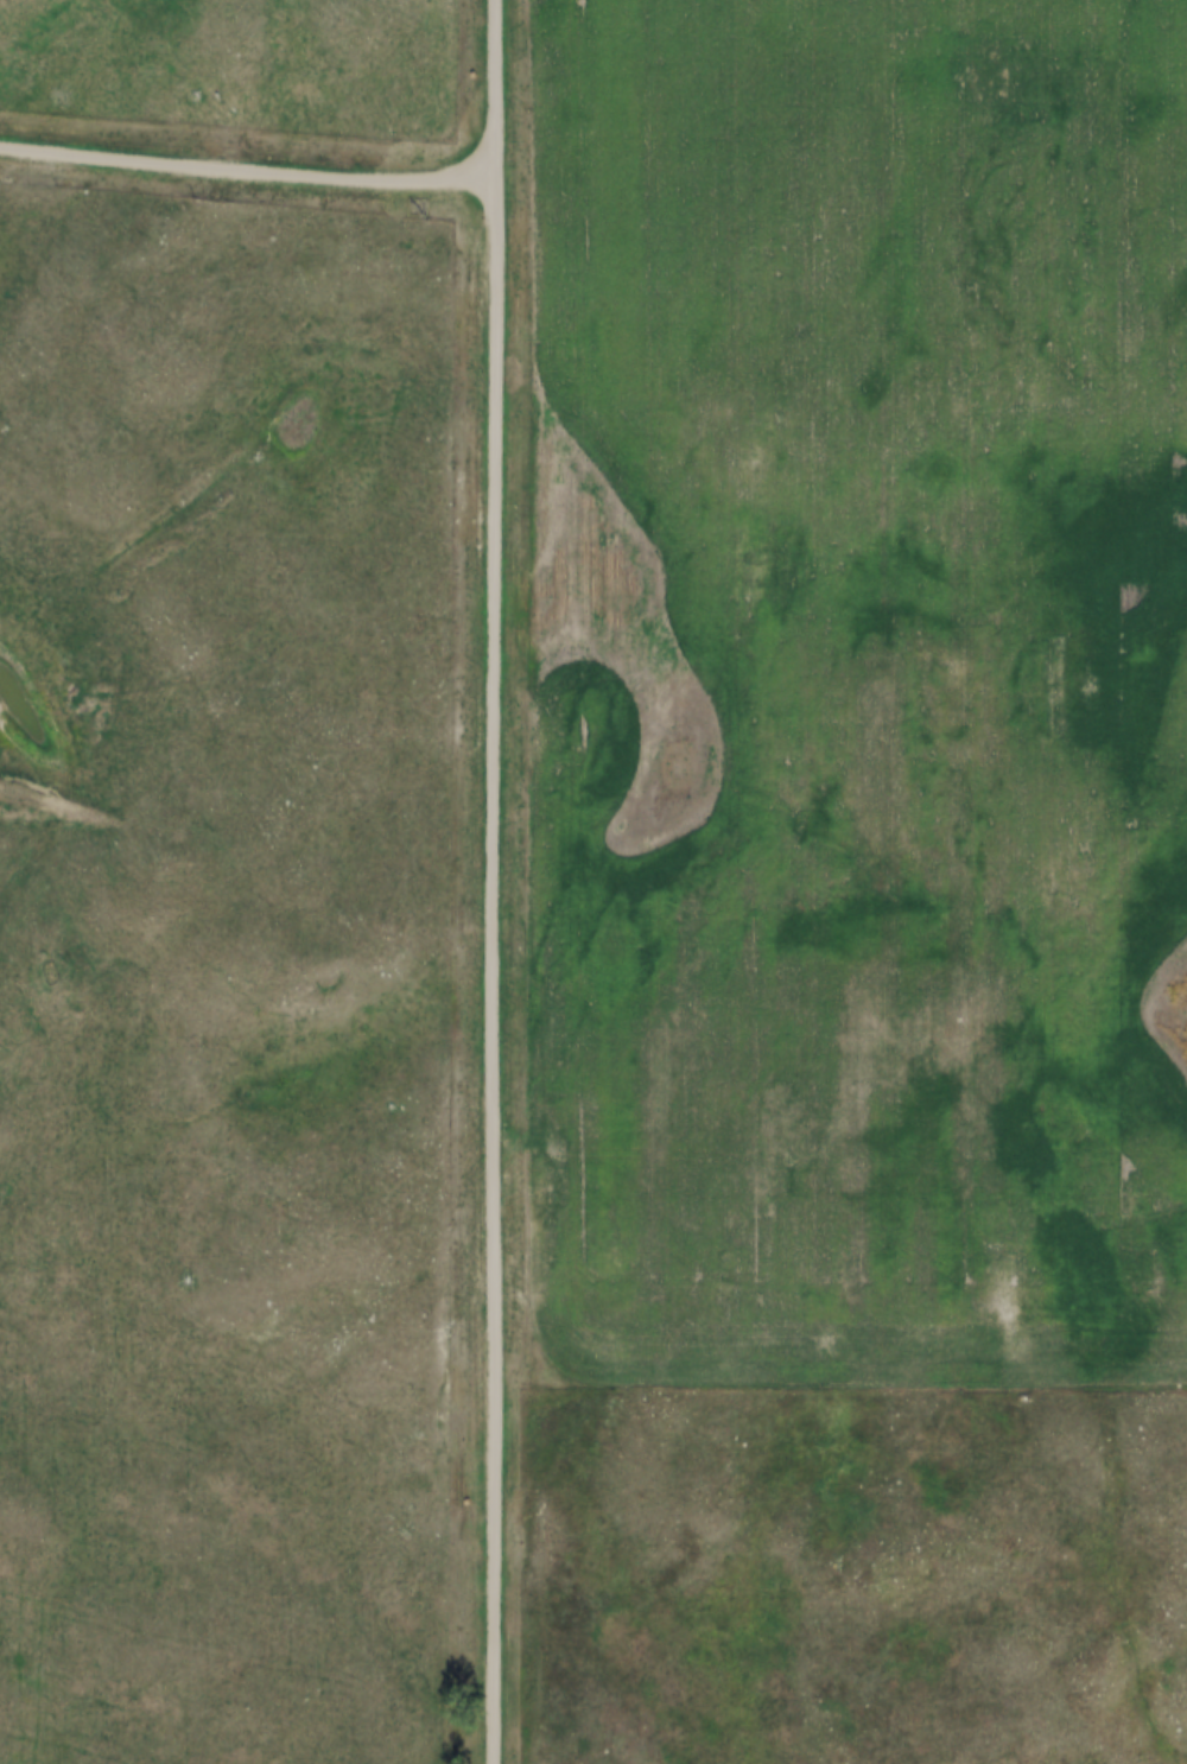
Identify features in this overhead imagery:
road: (246, 175)
road: (494, 881)

